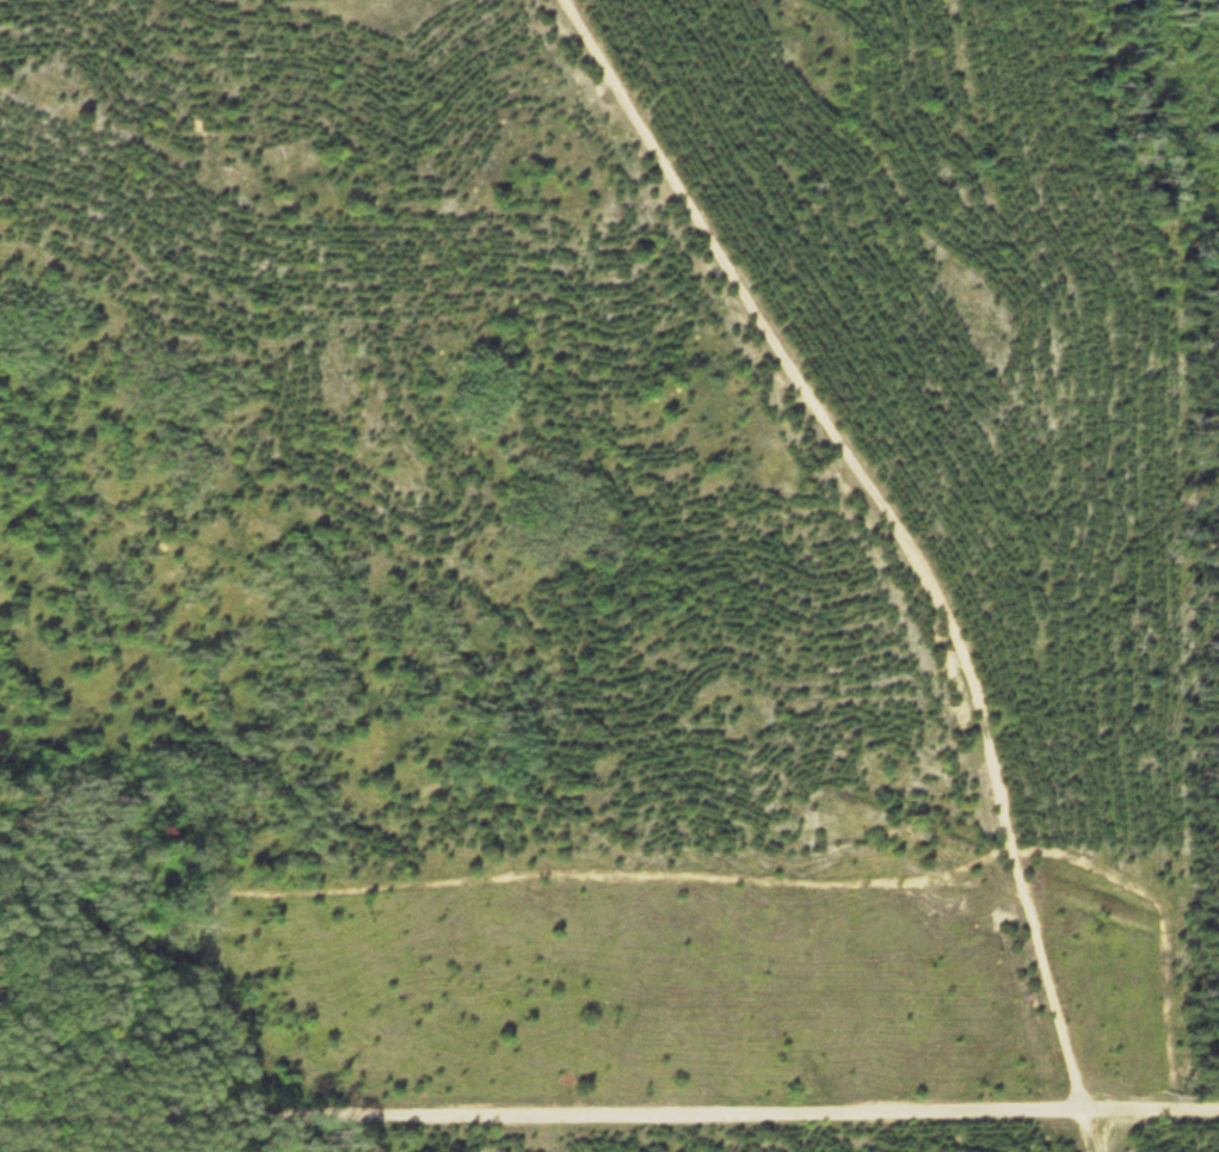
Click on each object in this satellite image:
road: (897, 546)
road: (609, 1108)

